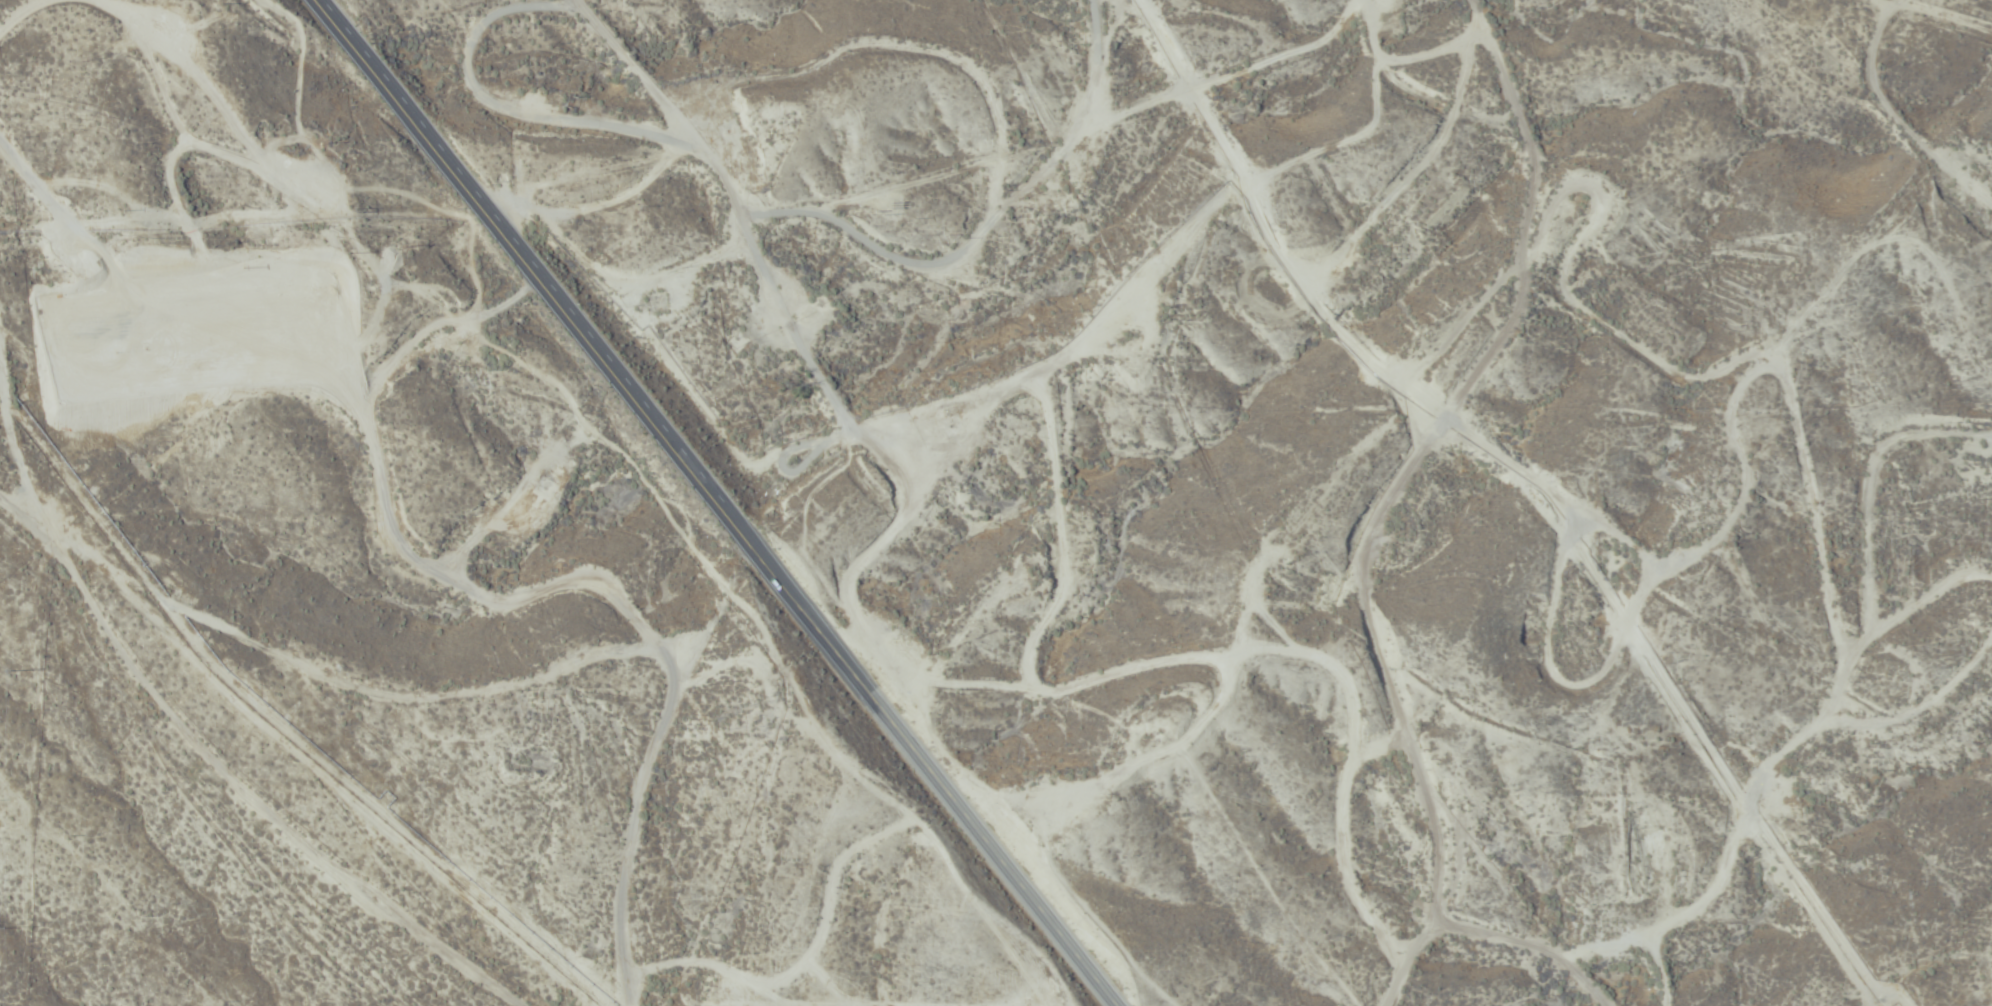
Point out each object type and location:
road: (721, 503)
road: (1375, 532)

